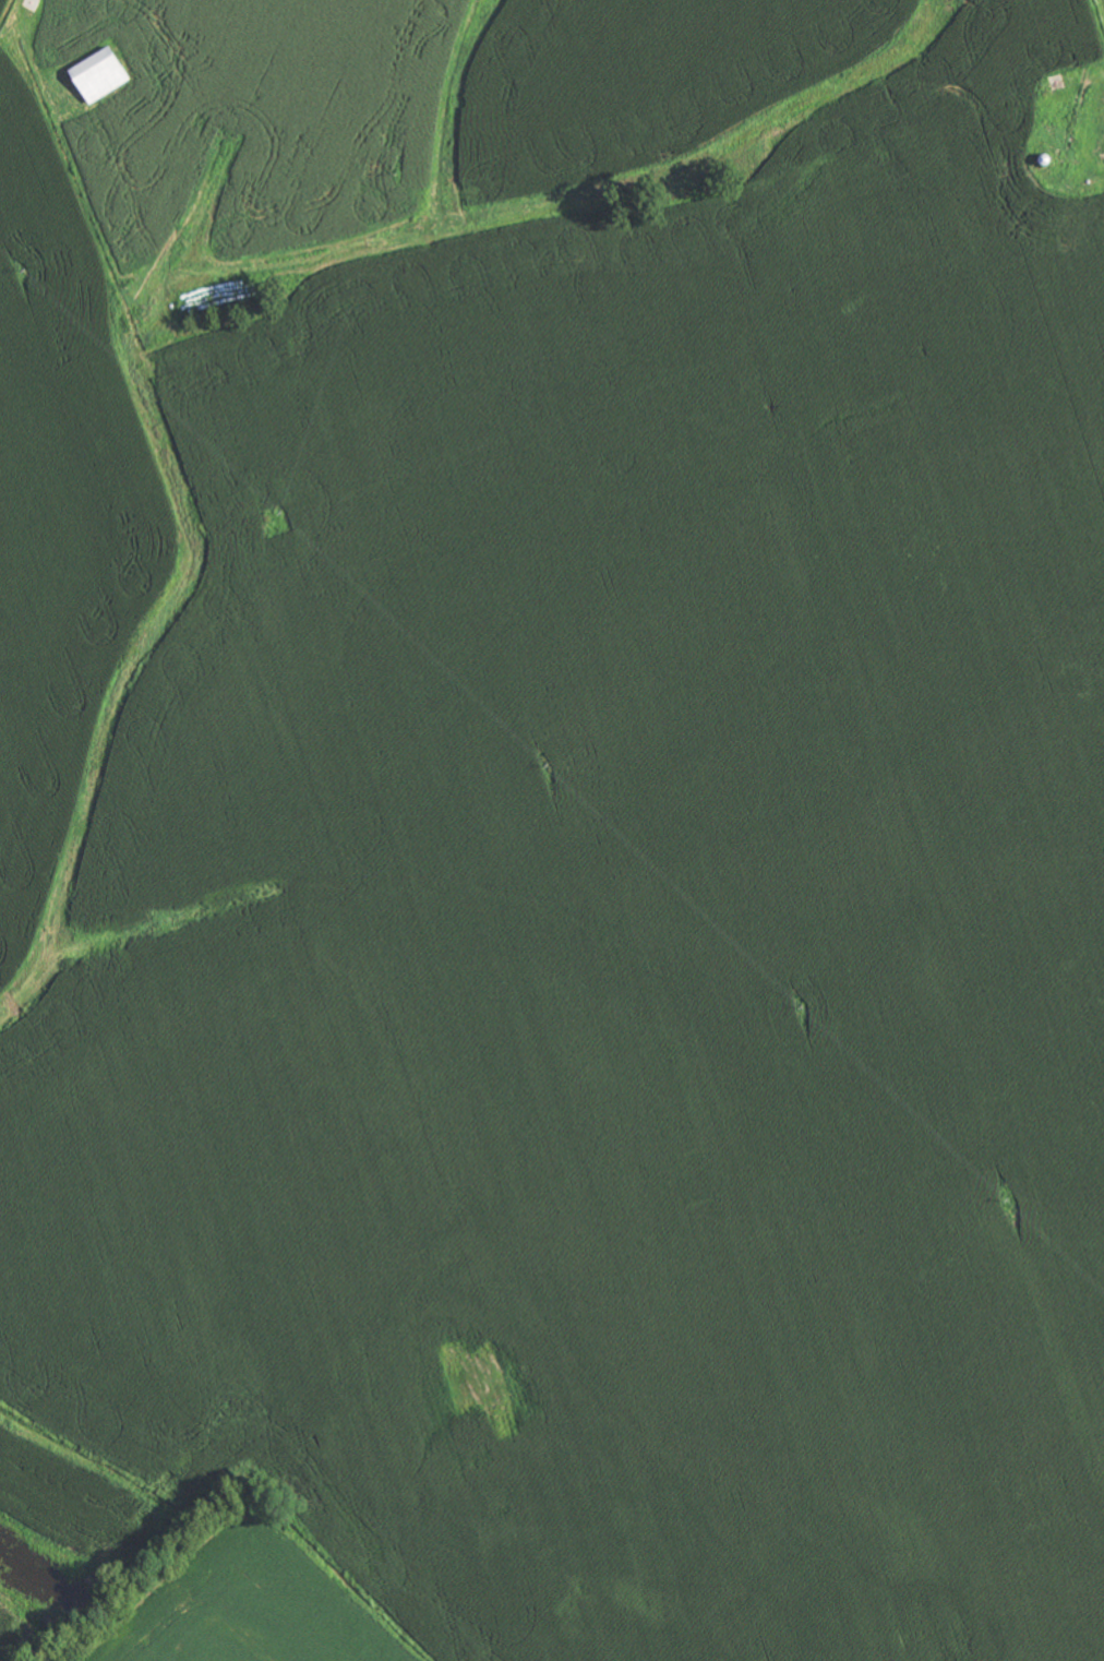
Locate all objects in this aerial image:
building: (100, 75)
building: (1045, 160)

